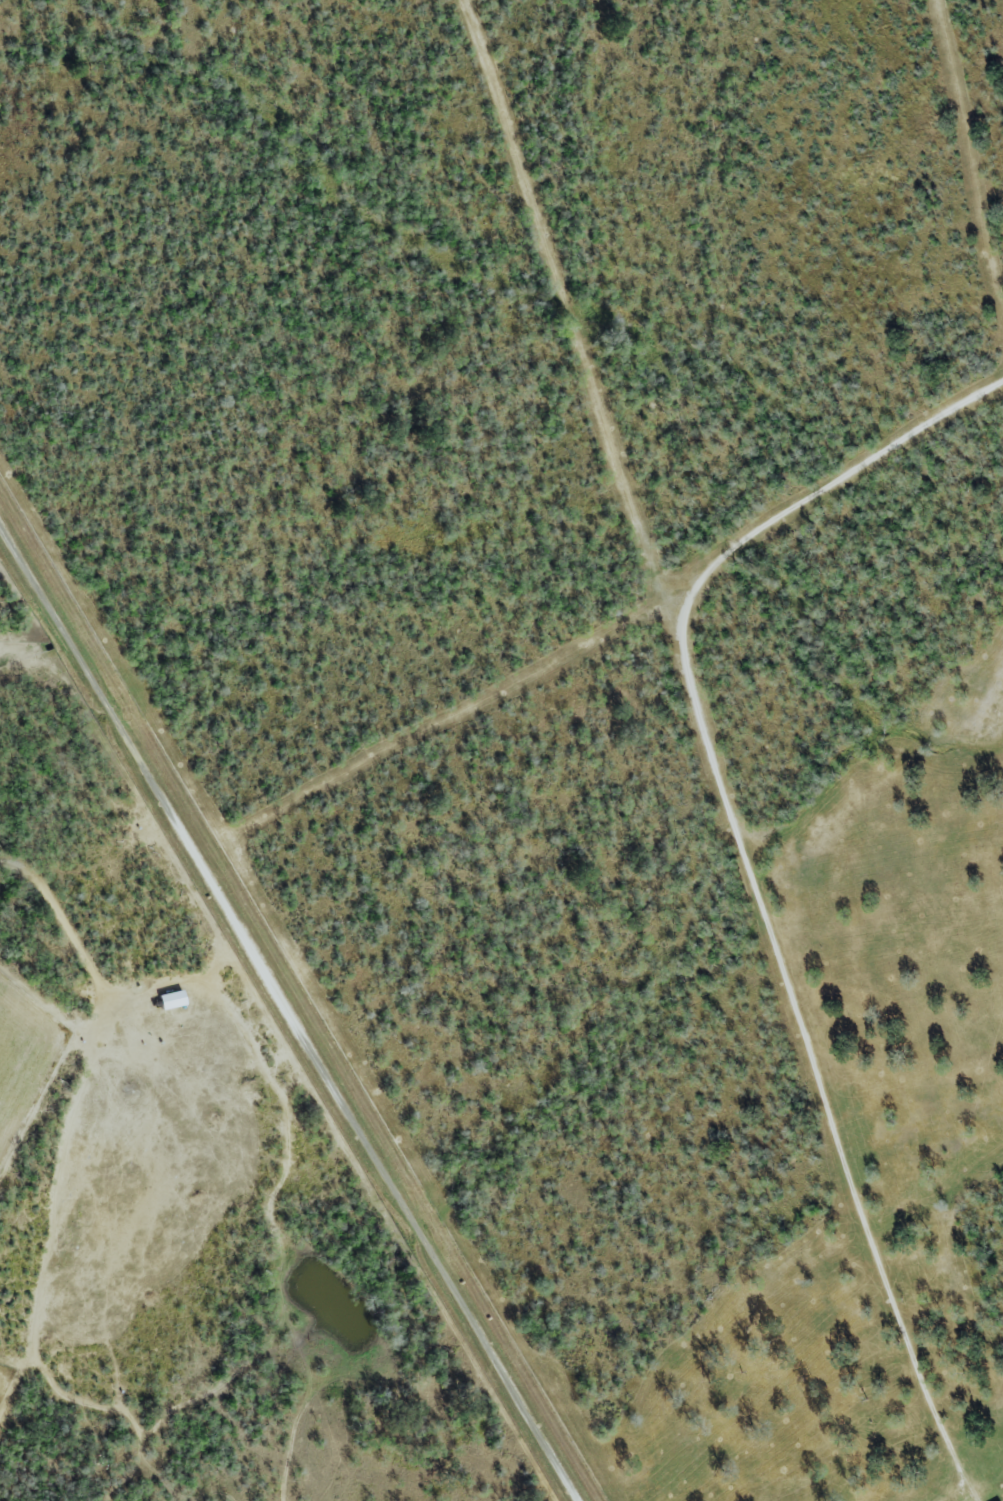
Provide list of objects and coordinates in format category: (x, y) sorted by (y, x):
road: (752, 874)
road: (292, 1014)

